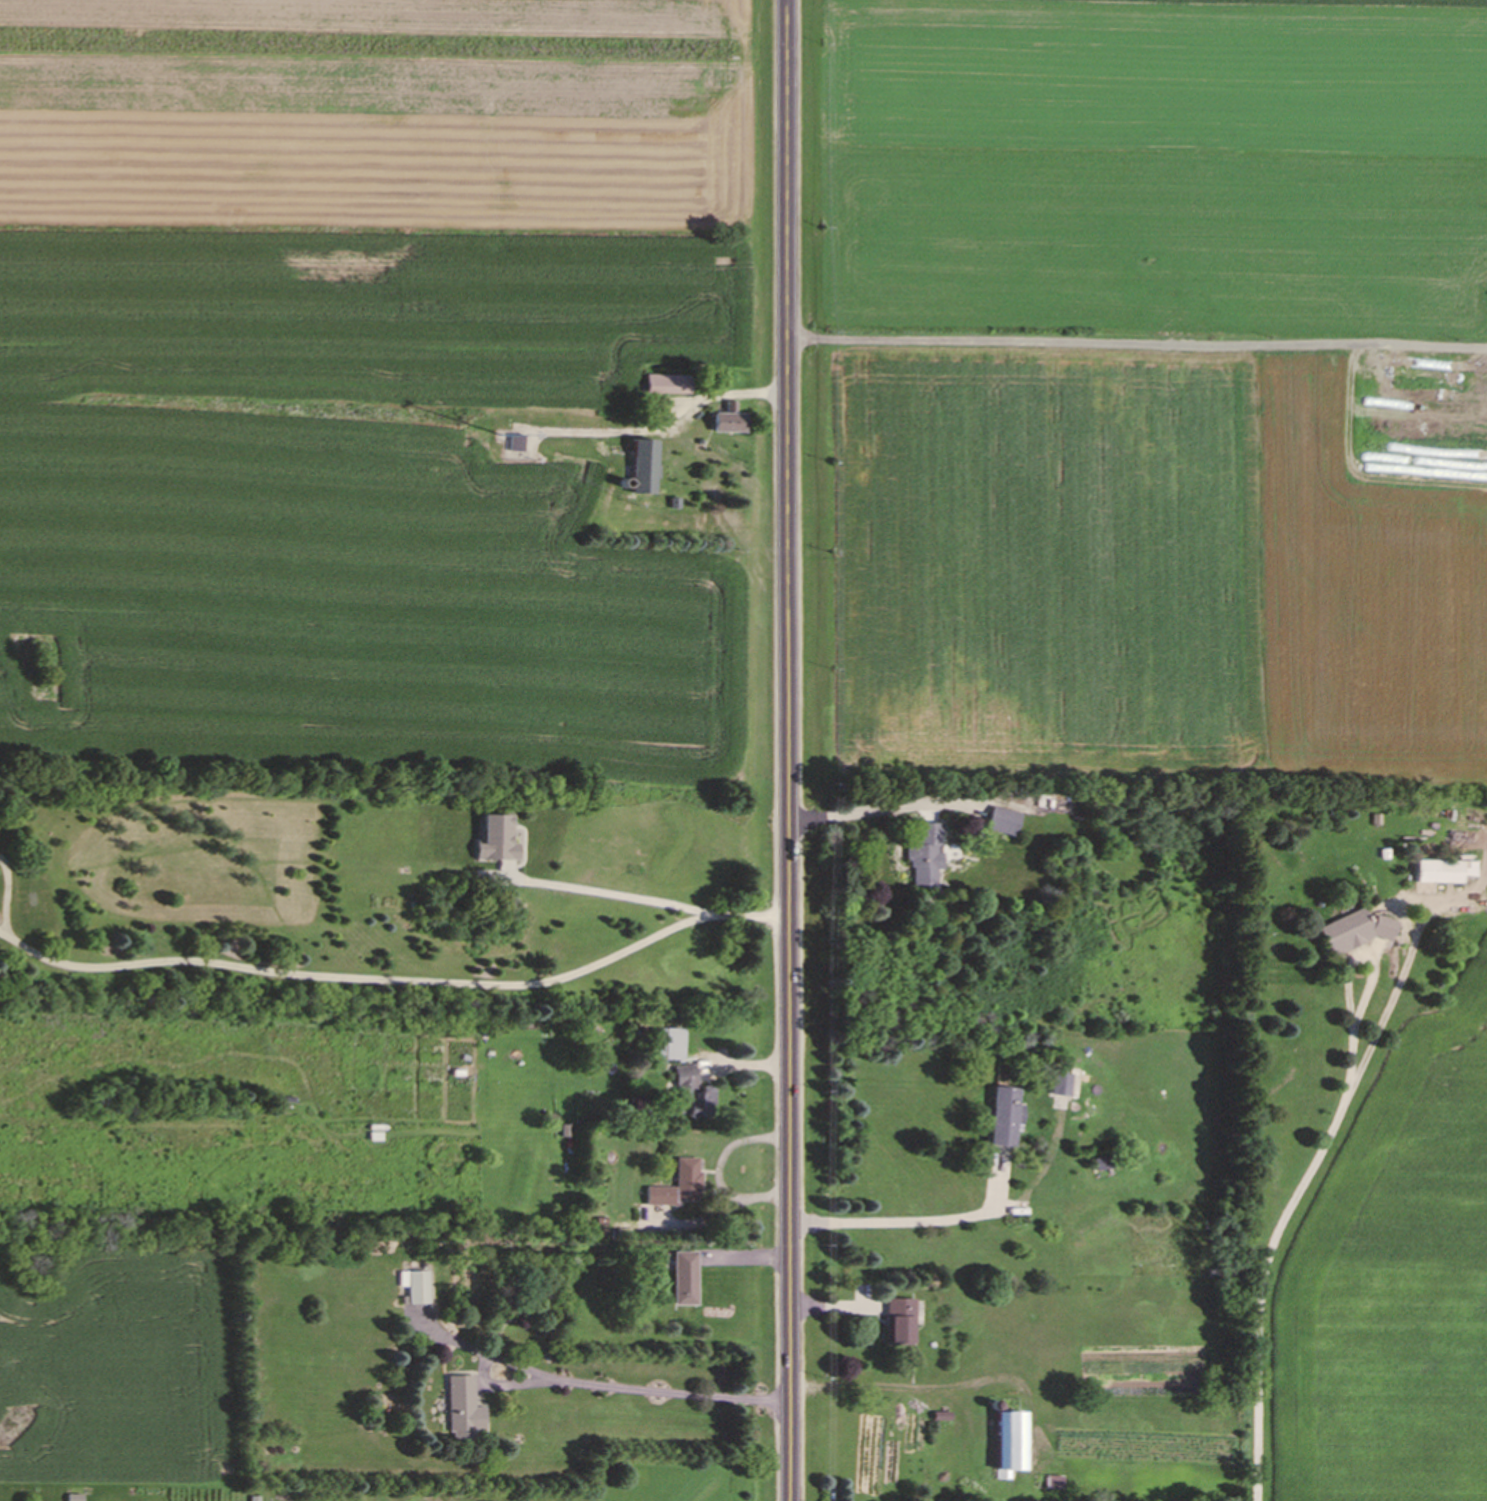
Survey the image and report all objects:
building: (663, 387)
building: (724, 425)
building: (514, 445)
building: (638, 468)
road: (787, 750)
road: (859, 809)
building: (998, 823)
building: (491, 840)
building: (923, 859)
building: (1439, 873)
road: (614, 896)
building: (1340, 932)
road: (395, 981)
building: (666, 1045)
building: (1058, 1087)
building: (684, 1092)
building: (999, 1118)
road: (718, 1173)
building: (676, 1188)
road: (909, 1220)
road: (1286, 1224)
building: (680, 1281)
building: (417, 1290)
building: (893, 1324)
road: (665, 1391)
building: (459, 1410)
building: (1004, 1444)

